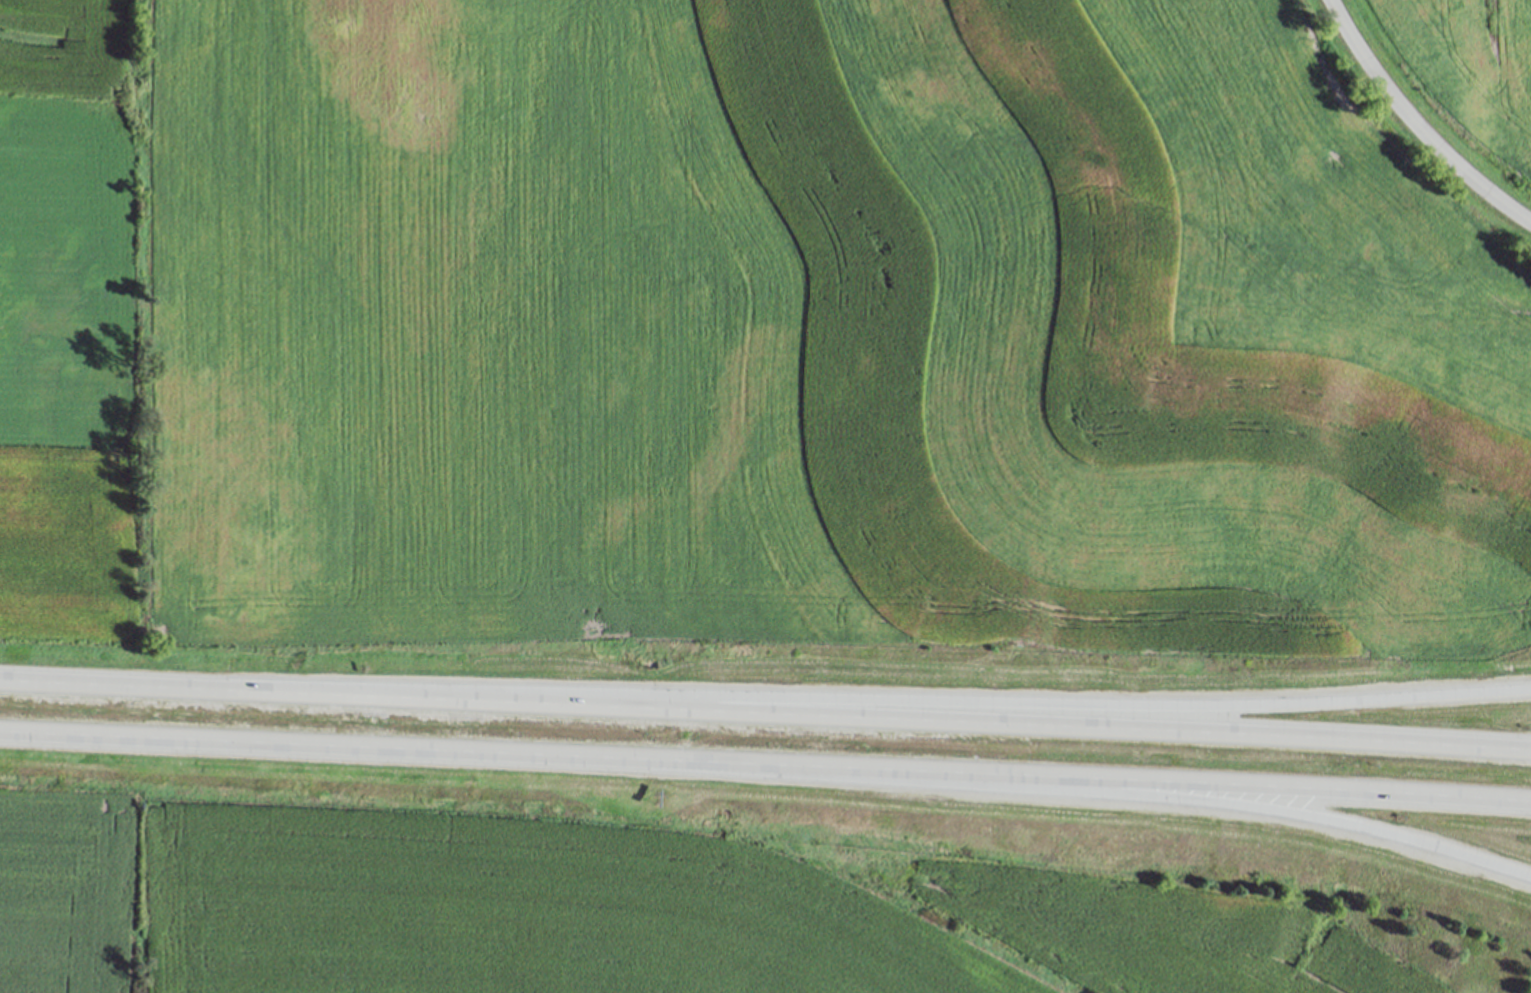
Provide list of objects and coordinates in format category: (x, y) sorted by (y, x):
crop: (1467, 68)
road: (1415, 125)
crop: (744, 335)
road: (915, 701)
road: (765, 713)
road: (765, 765)
road: (1125, 795)

